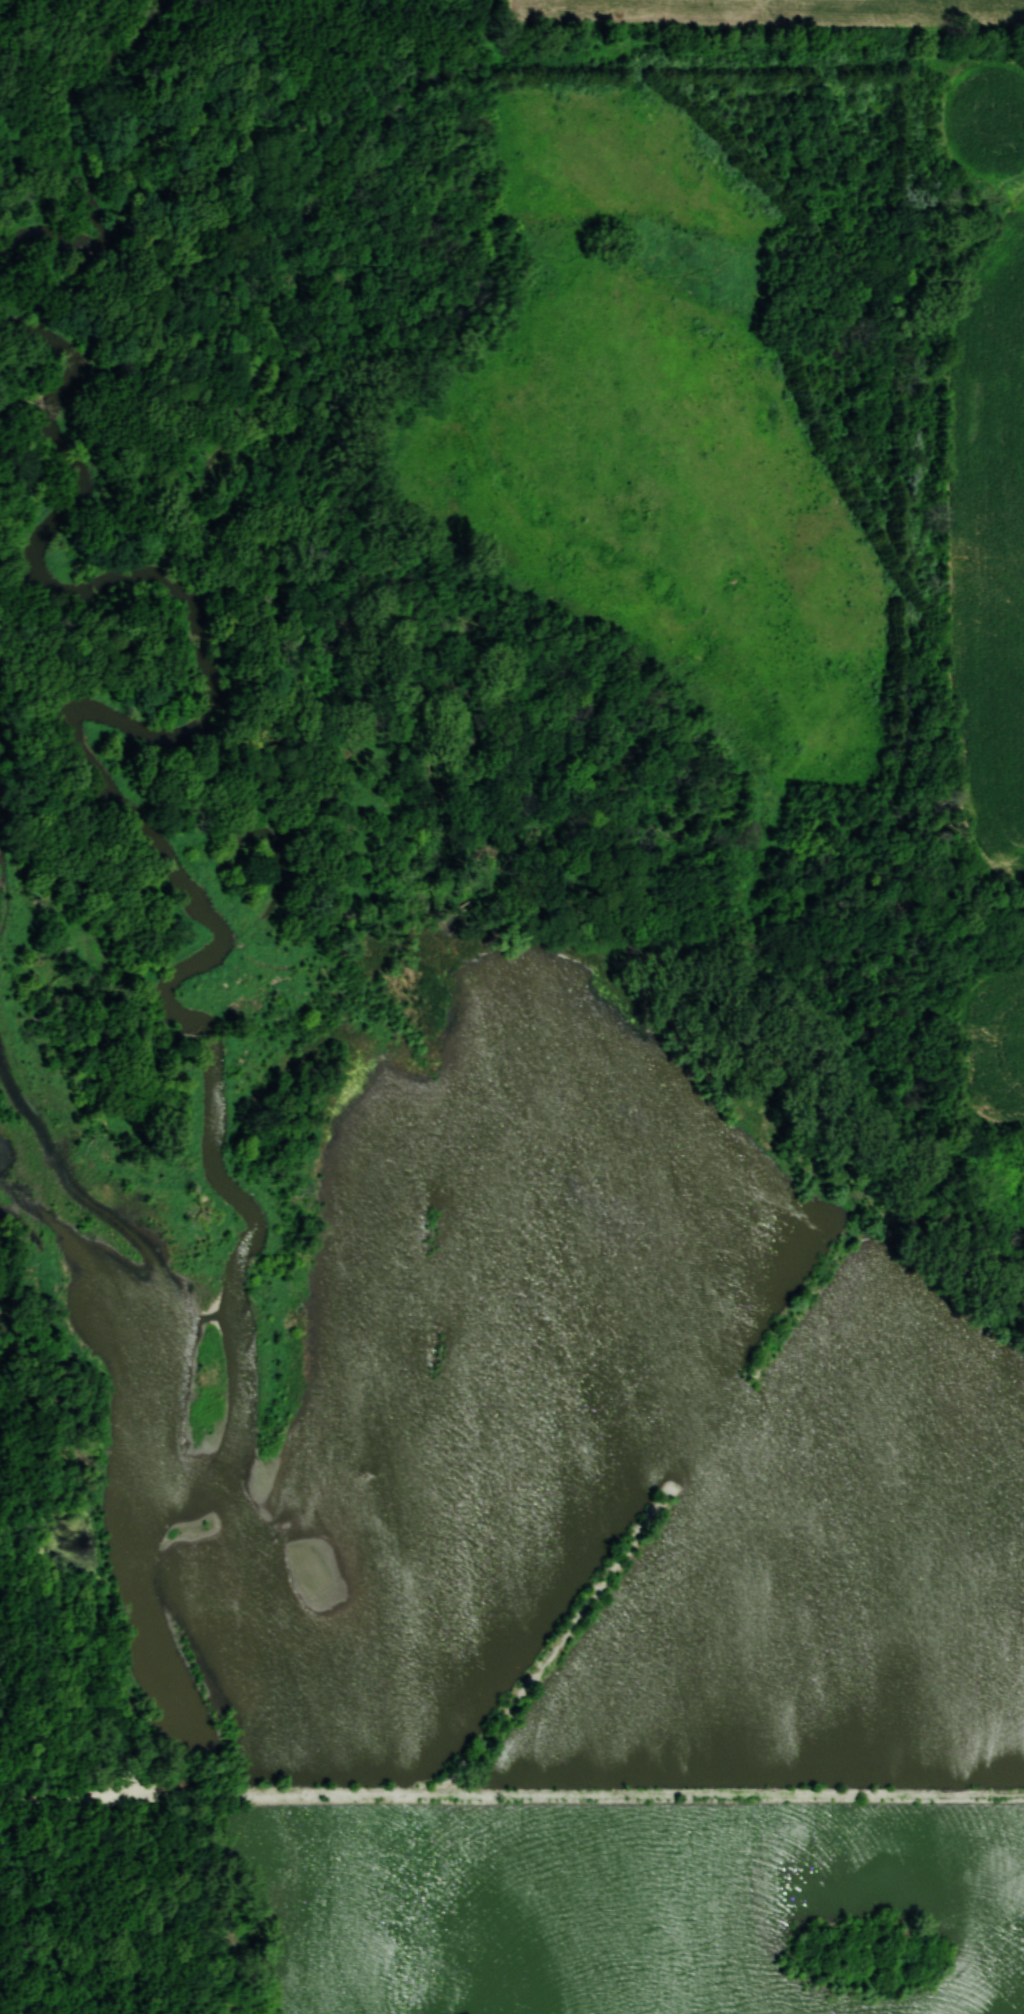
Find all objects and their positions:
parking lot: (134, 1779)
road: (72, 1800)
park: (603, 1887)

